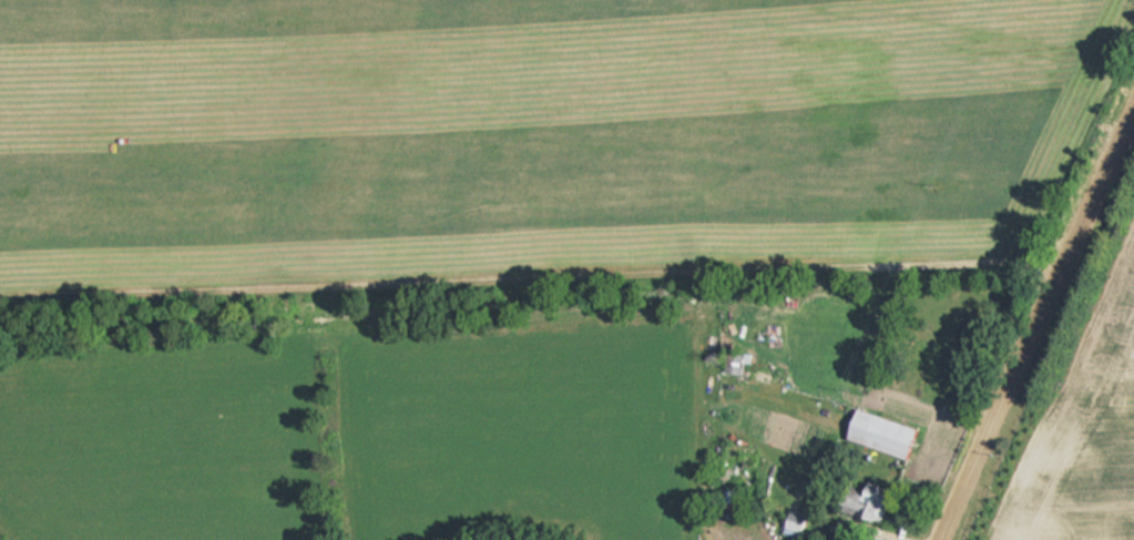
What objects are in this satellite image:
road: (1032, 312)
building: (888, 434)
building: (1069, 442)
building: (799, 524)

